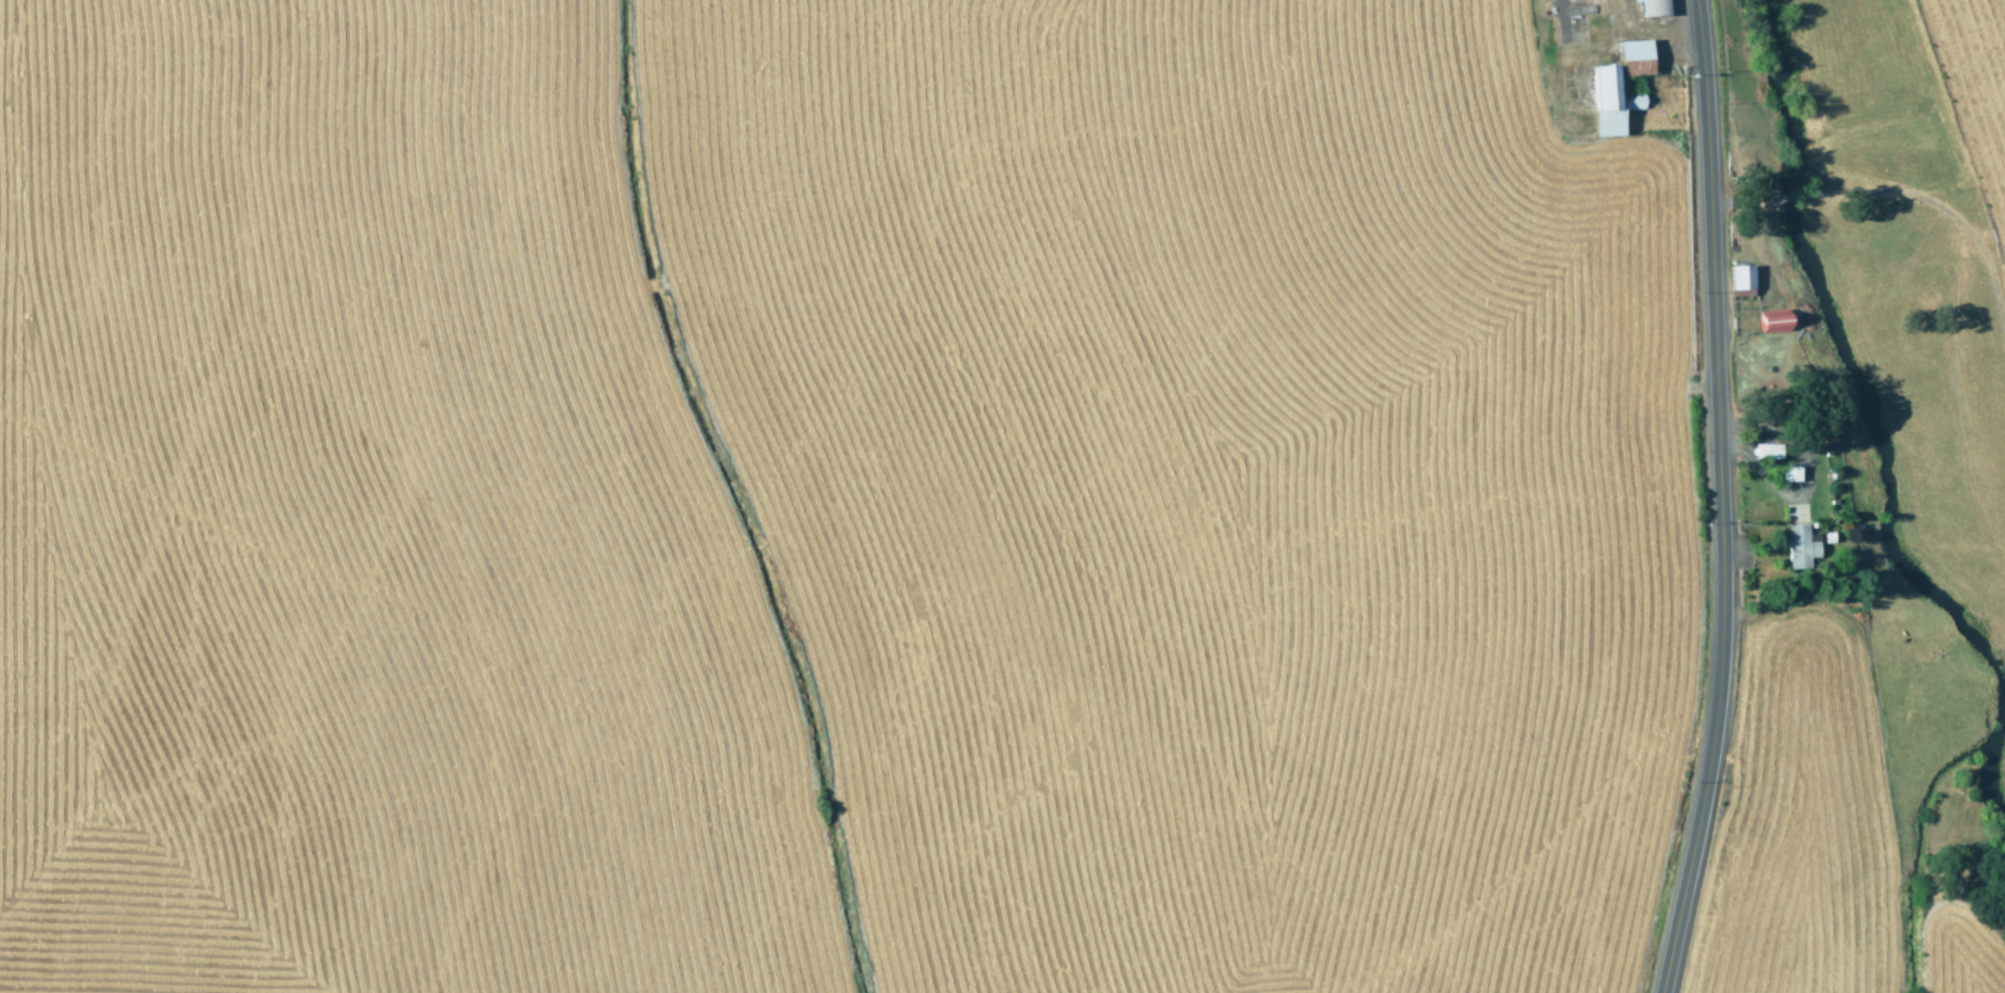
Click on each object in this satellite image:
building: (1653, 7)
building: (1634, 57)
building: (1609, 100)
crop: (1961, 135)
building: (1741, 280)
building: (1774, 321)
building: (1789, 473)
crop: (821, 495)
road: (1718, 498)
building: (1800, 546)
crop: (1842, 824)

